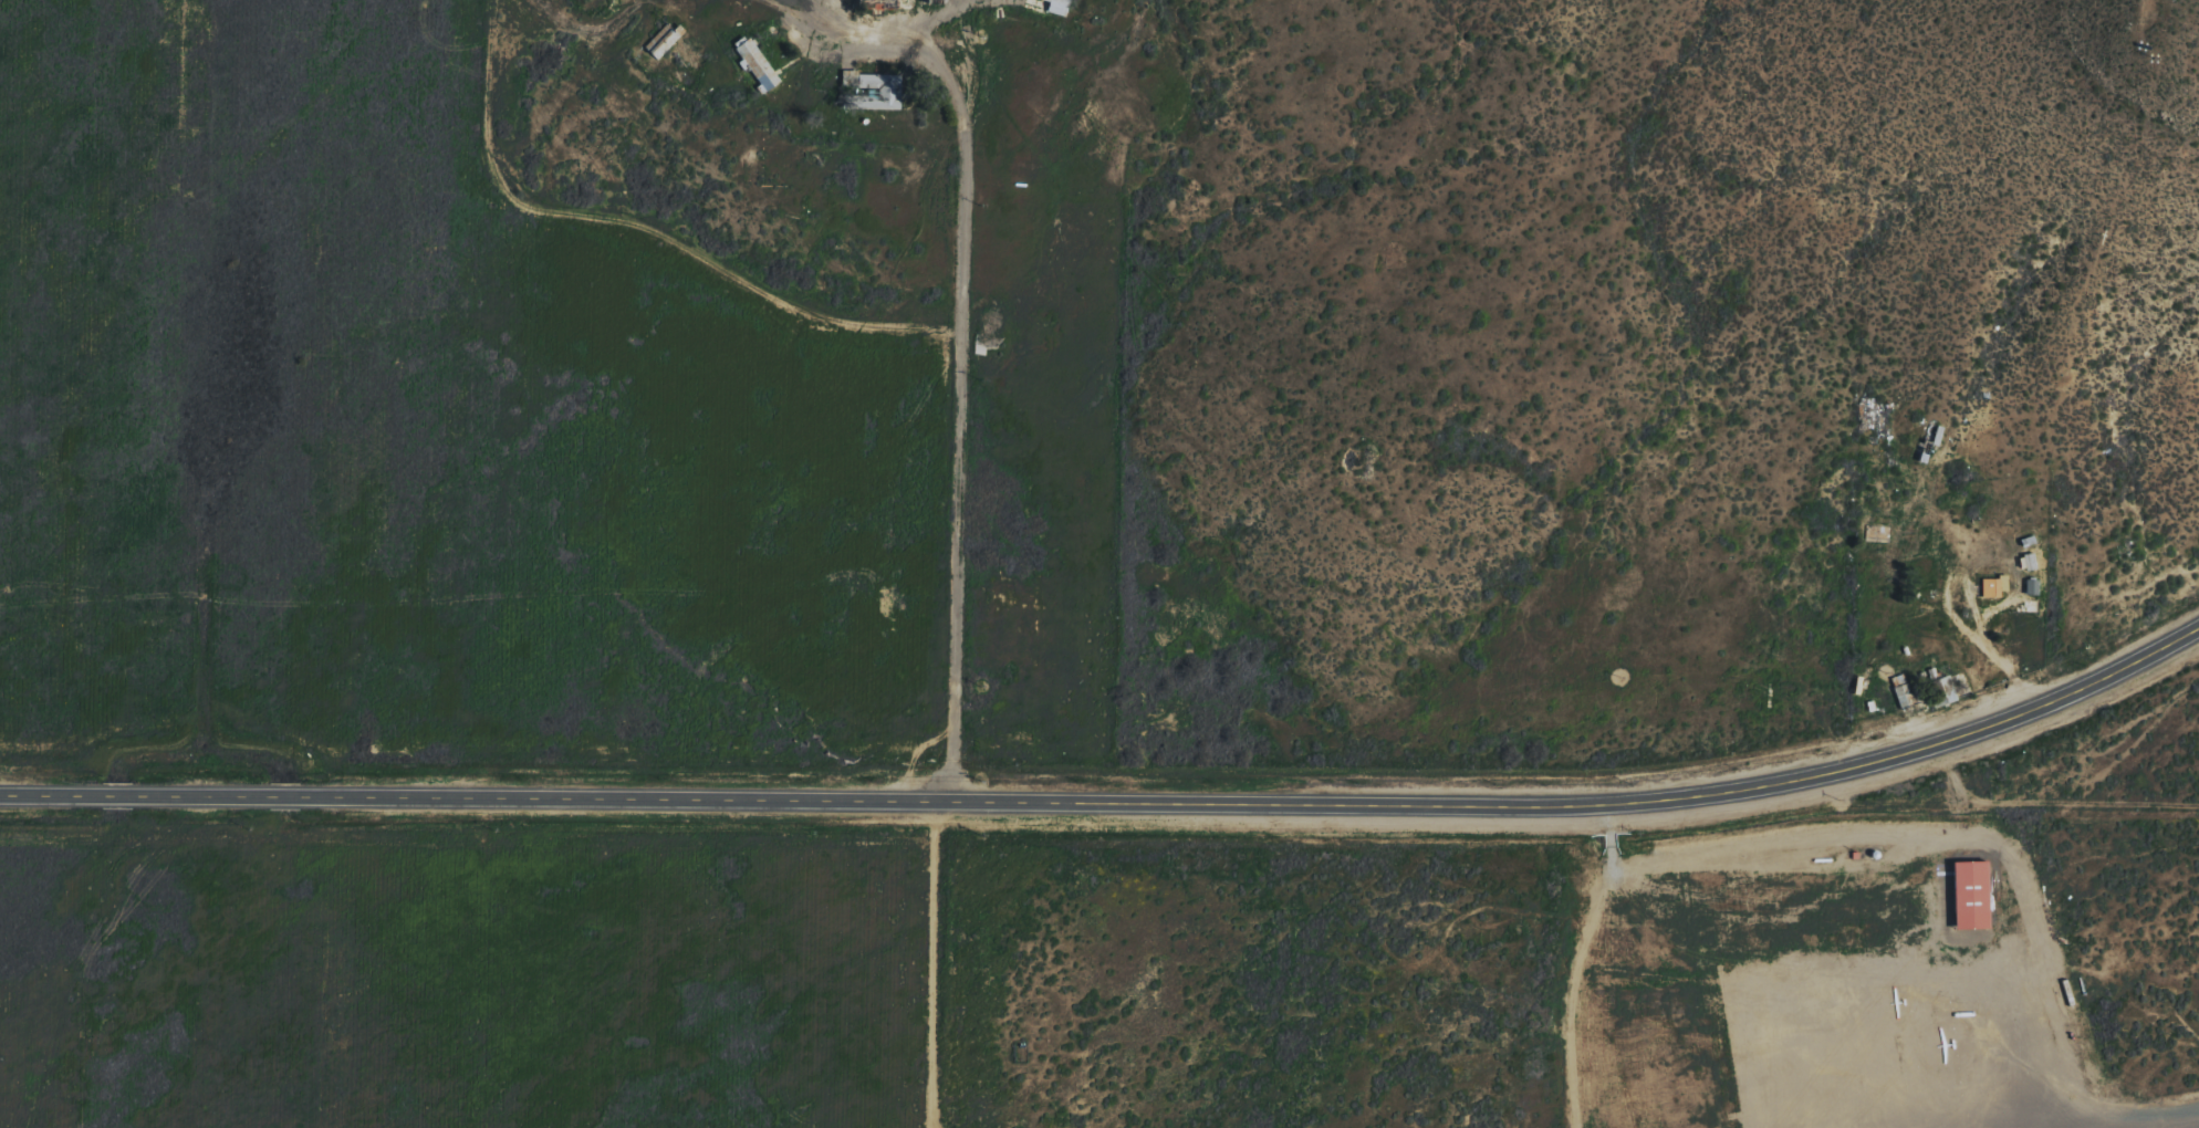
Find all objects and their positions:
building: (1060, 7)
building: (665, 41)
building: (760, 63)
road: (723, 271)
road: (965, 347)
crop: (414, 431)
building: (1991, 586)
road: (1114, 797)
road: (1609, 826)
building: (1876, 854)
storage tank: (1876, 854)
building: (1855, 855)
building: (1970, 895)
airport: (1581, 970)
airport apron: (1826, 990)

